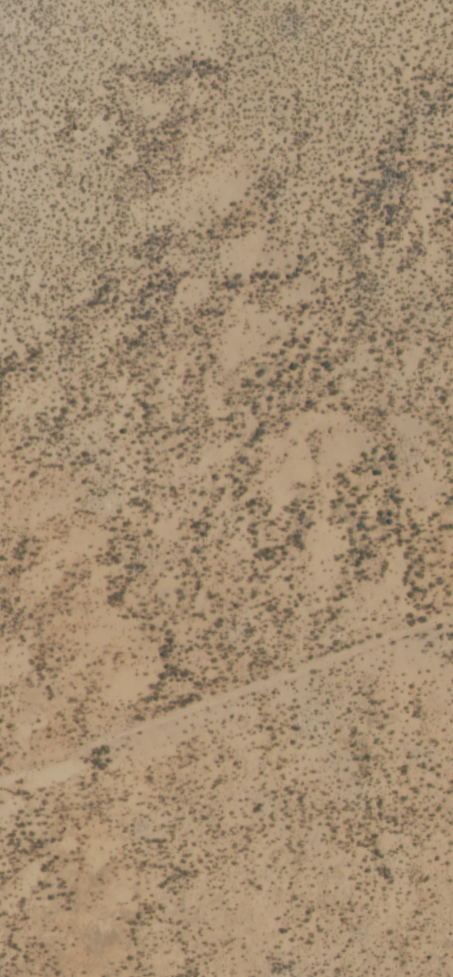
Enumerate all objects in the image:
road: (224, 711)

